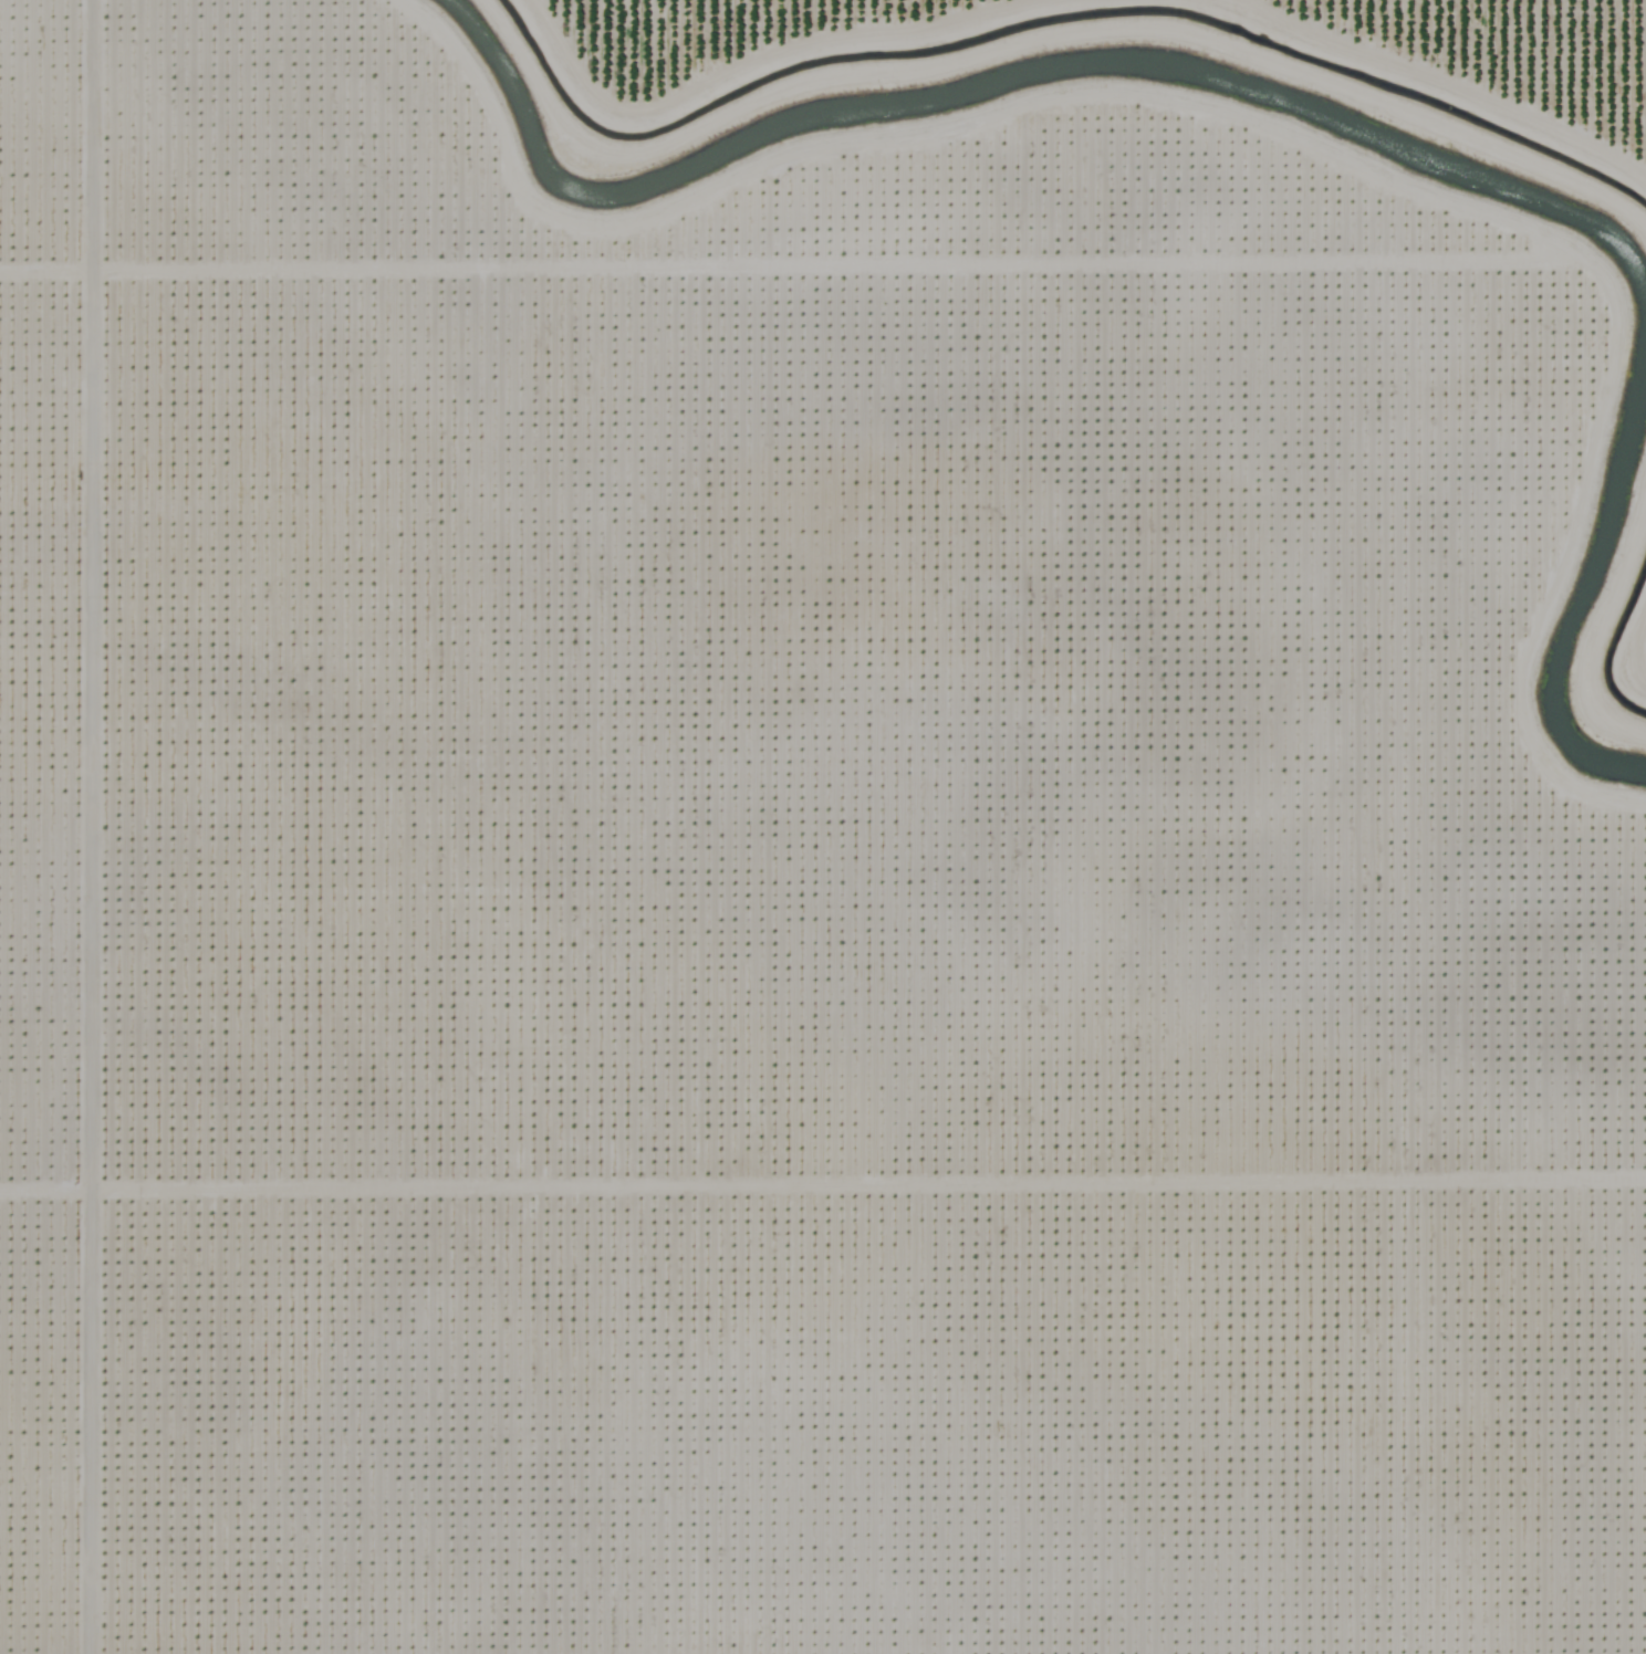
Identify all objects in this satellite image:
road: (710, 13)
road: (1573, 98)
crop: (823, 827)

